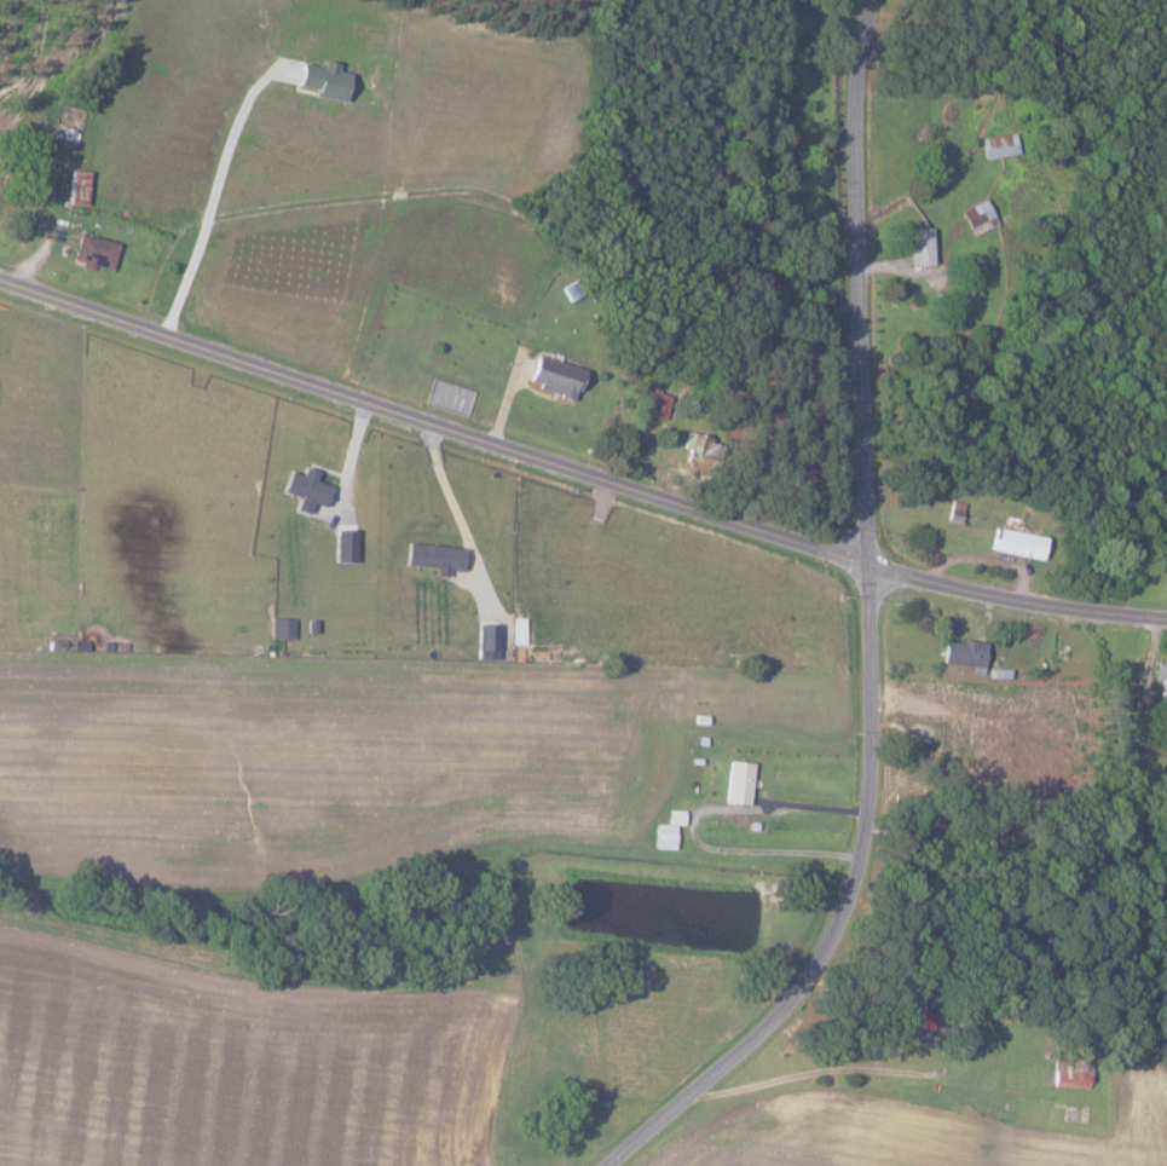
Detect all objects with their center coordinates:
building: (323, 81)
building: (999, 146)
building: (76, 187)
building: (980, 217)
building: (920, 247)
building: (96, 252)
road: (863, 283)
building: (555, 375)
building: (658, 404)
building: (698, 451)
road: (578, 469)
building: (306, 487)
building: (1018, 542)
building: (433, 555)
building: (283, 628)
building: (964, 654)
building: (1161, 680)
building: (739, 781)
road: (694, 824)
building: (665, 836)
road: (840, 912)
building: (915, 1010)
building: (1070, 1072)

